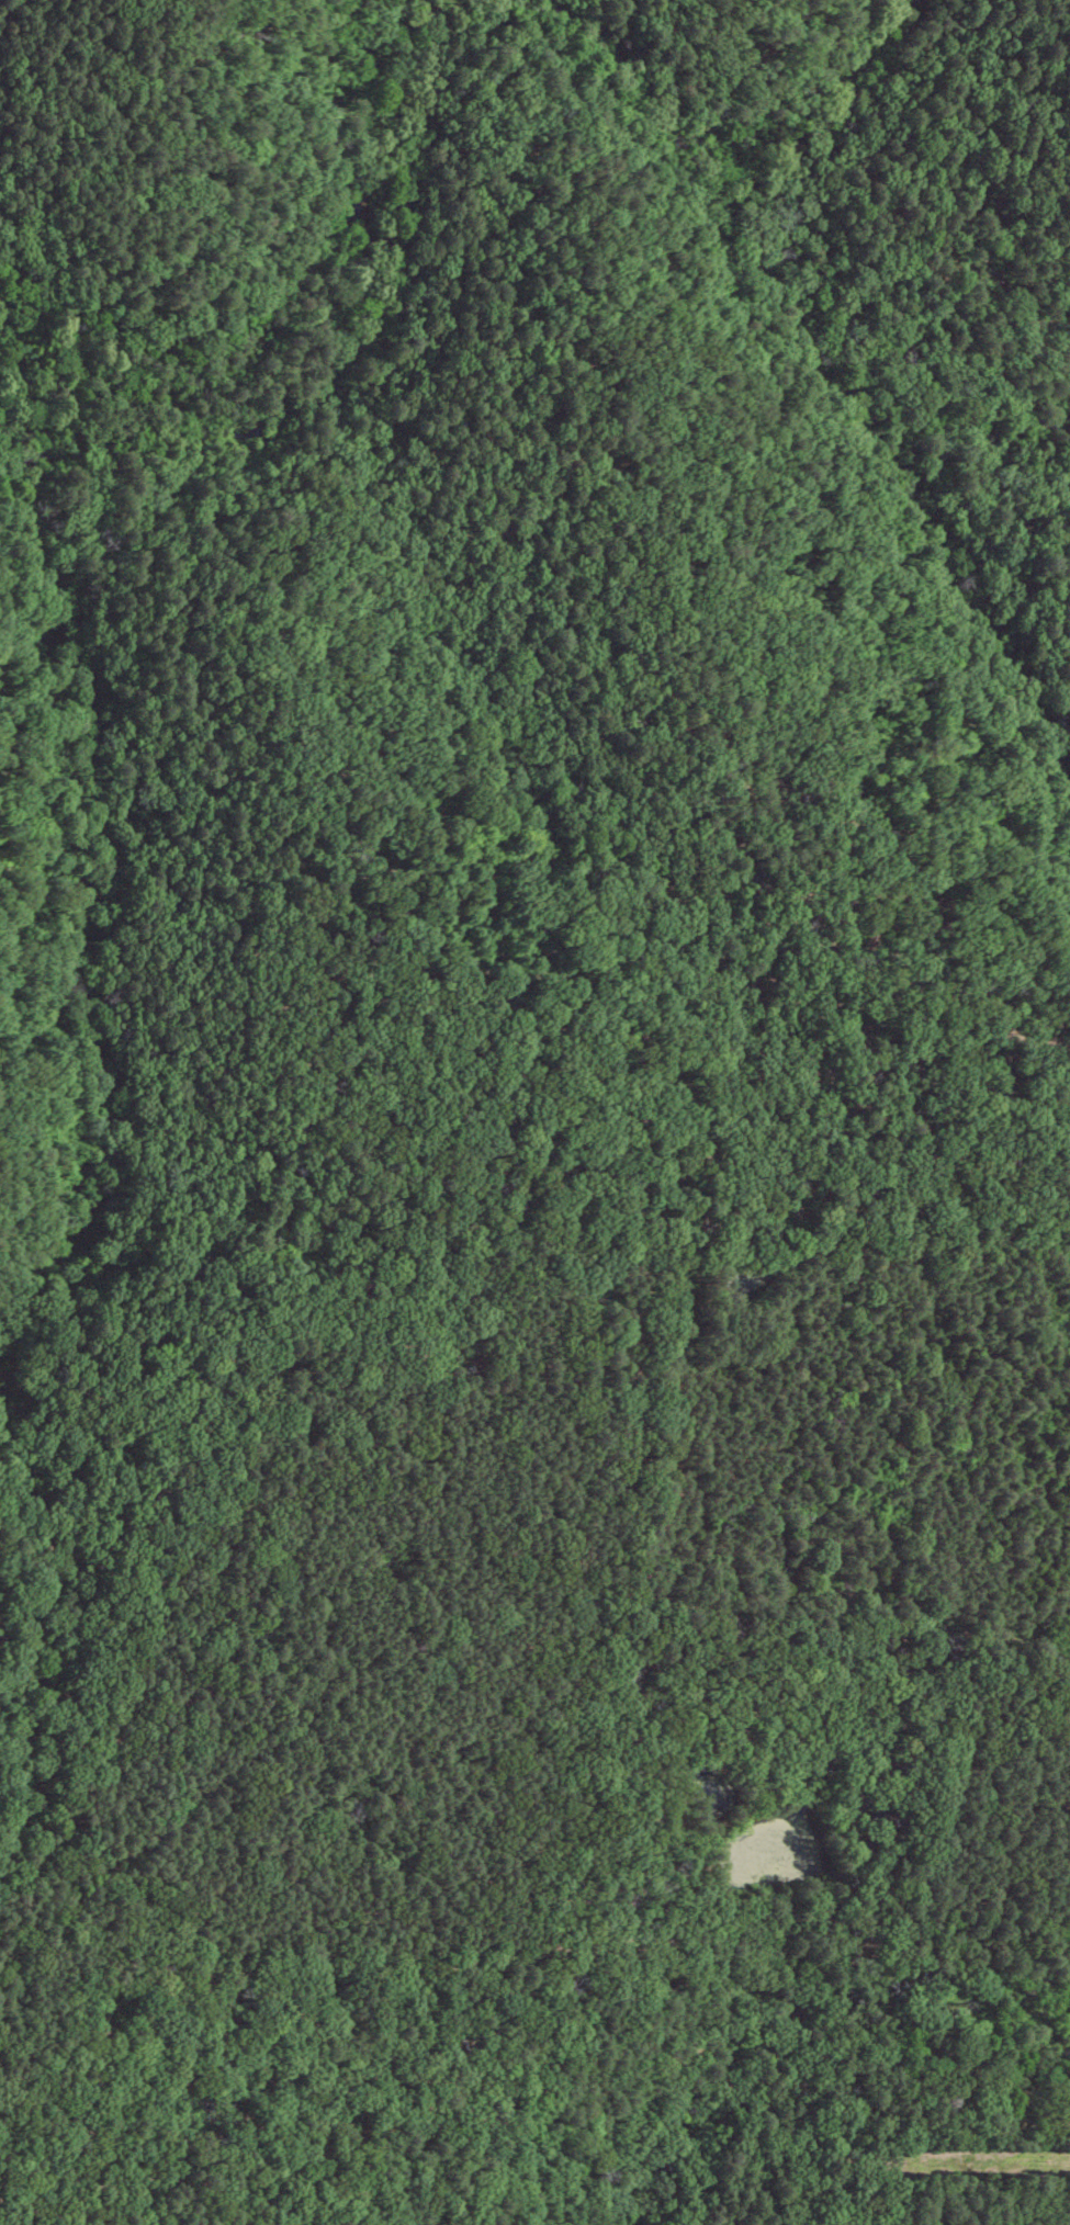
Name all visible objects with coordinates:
road: (924, 2078)

